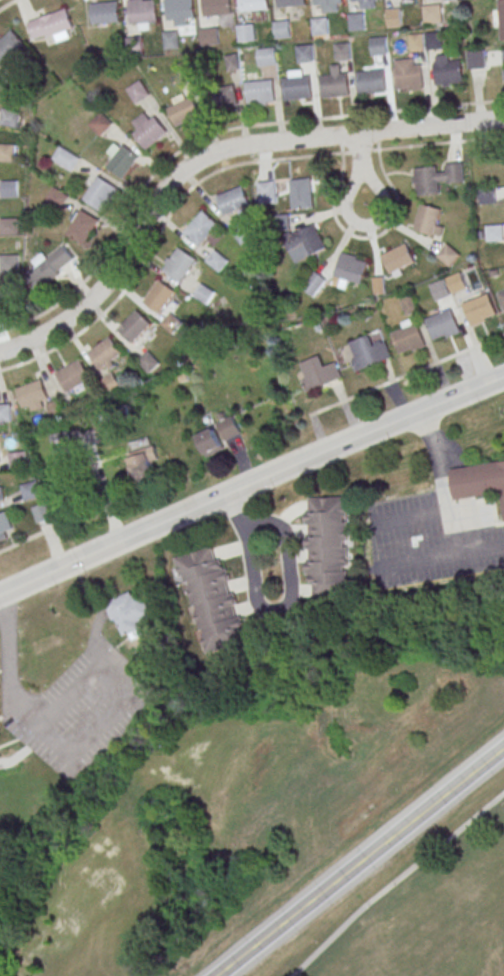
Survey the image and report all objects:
building: (358, 0)
building: (326, 2)
building: (290, 3)
building: (370, 3)
road: (9, 4)
building: (252, 5)
building: (216, 7)
building: (179, 9)
building: (143, 12)
building: (104, 14)
building: (431, 15)
building: (394, 19)
building: (501, 19)
building: (356, 23)
building: (52, 25)
building: (320, 27)
building: (282, 30)
building: (246, 34)
building: (209, 39)
building: (171, 41)
building: (434, 42)
building: (417, 44)
building: (11, 48)
building: (379, 48)
building: (343, 53)
building: (305, 55)
building: (503, 57)
building: (268, 58)
building: (476, 61)
building: (232, 65)
building: (449, 74)
building: (409, 78)
building: (371, 82)
building: (334, 87)
building: (297, 89)
building: (138, 91)
building: (260, 92)
building: (223, 98)
building: (182, 108)
building: (10, 117)
road: (322, 119)
building: (100, 123)
building: (148, 128)
building: (7, 151)
road: (361, 152)
road: (210, 157)
building: (66, 158)
building: (121, 159)
road: (362, 169)
building: (437, 177)
building: (8, 188)
building: (267, 192)
building: (101, 193)
building: (301, 193)
building: (487, 195)
building: (56, 197)
building: (233, 200)
building: (429, 219)
building: (9, 226)
building: (82, 226)
building: (201, 227)
building: (495, 232)
building: (241, 234)
building: (305, 240)
building: (448, 254)
building: (399, 259)
building: (217, 260)
building: (9, 263)
building: (180, 263)
building: (52, 265)
building: (351, 268)
building: (314, 283)
building: (448, 286)
building: (204, 294)
building: (160, 296)
building: (501, 296)
building: (408, 304)
building: (478, 311)
building: (171, 322)
building: (135, 325)
building: (443, 326)
building: (409, 340)
building: (106, 352)
building: (368, 352)
building: (149, 361)
building: (319, 372)
road: (402, 375)
building: (73, 376)
building: (111, 382)
building: (38, 398)
building: (5, 412)
building: (229, 427)
building: (61, 438)
building: (211, 442)
building: (18, 459)
building: (145, 463)
building: (479, 480)
road: (251, 484)
building: (31, 490)
building: (0, 491)
building: (42, 512)
road: (417, 515)
road: (453, 518)
building: (5, 526)
road: (30, 539)
building: (330, 547)
road: (482, 551)
building: (212, 599)
building: (129, 611)
road: (275, 614)
road: (82, 681)
park: (258, 809)
road: (358, 860)
road: (394, 880)
park: (419, 907)

